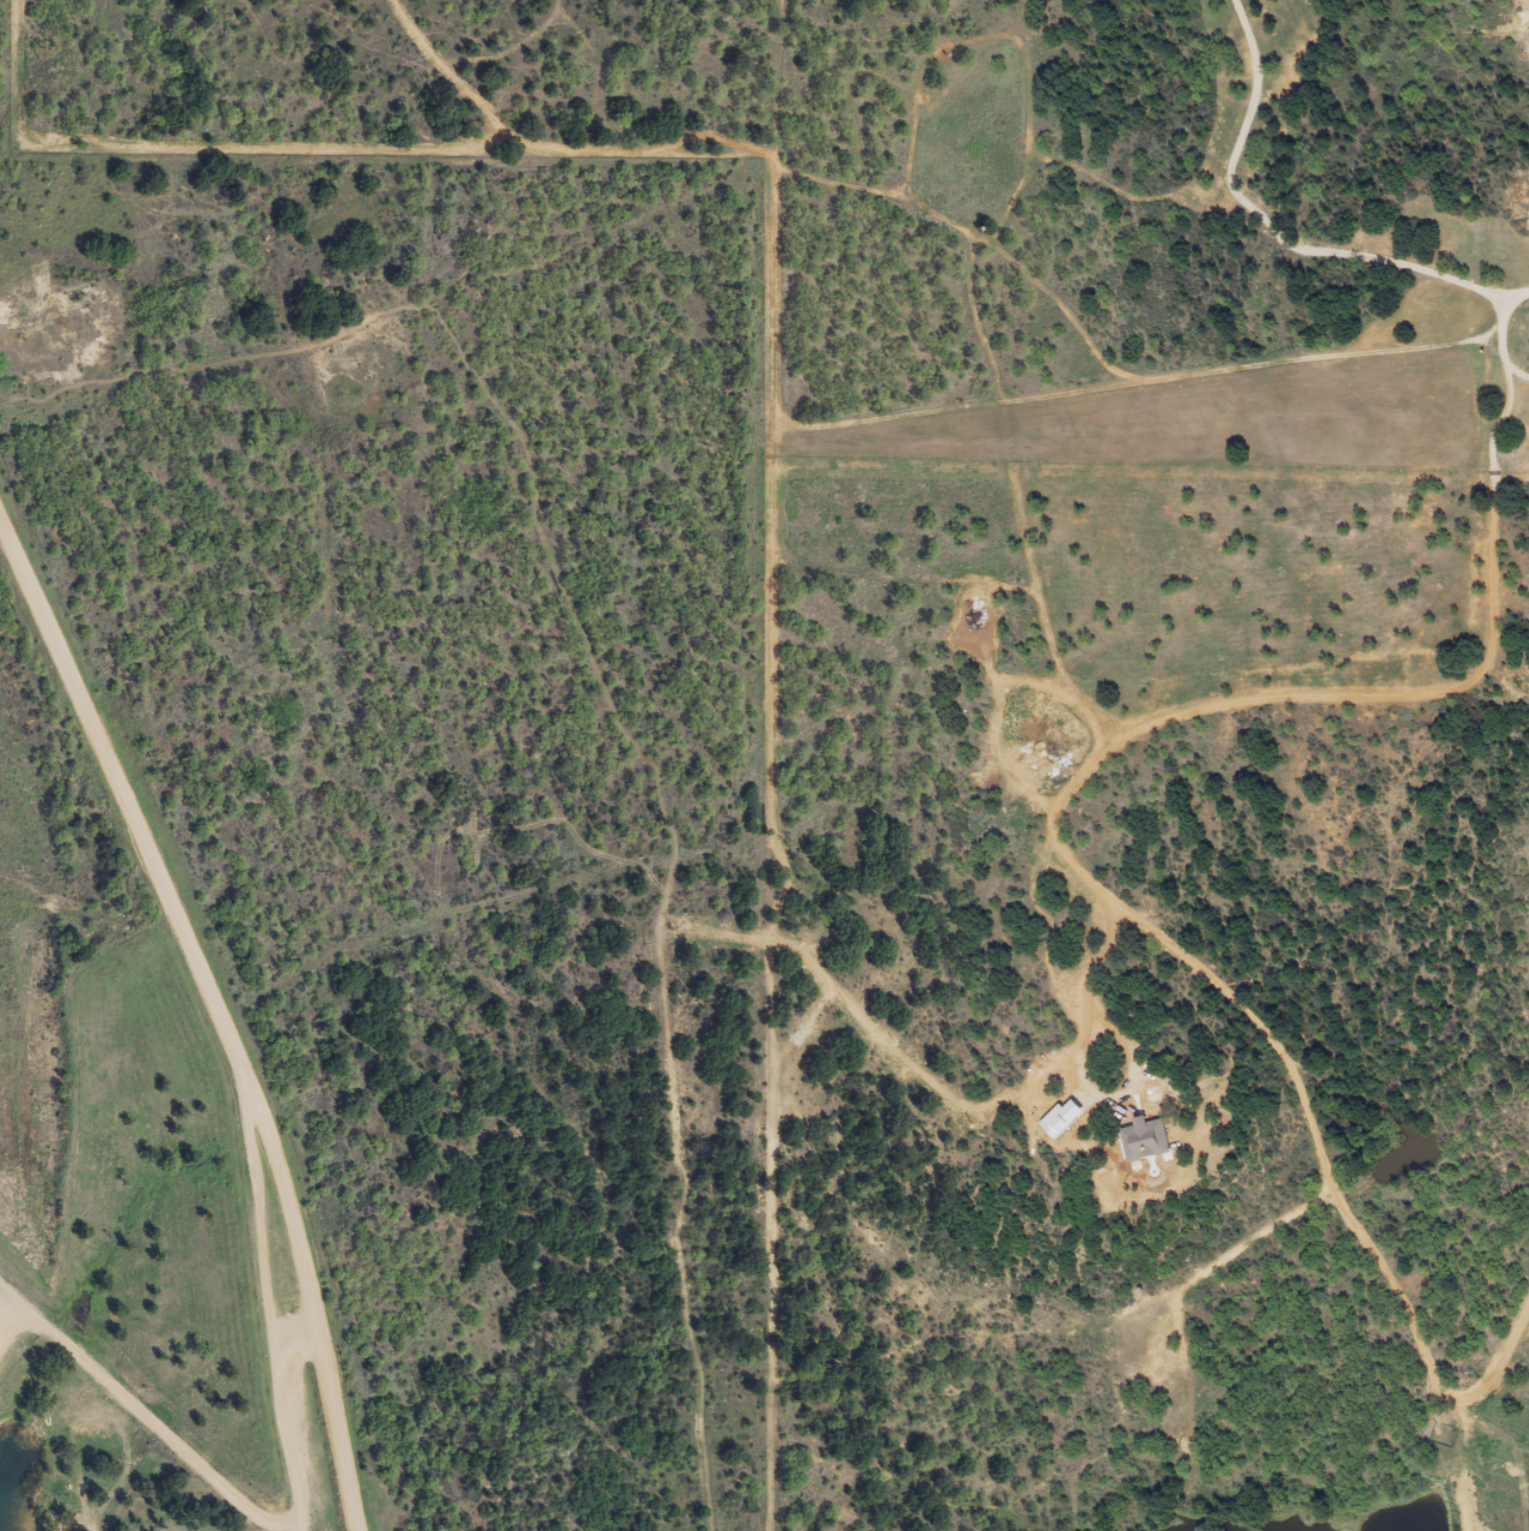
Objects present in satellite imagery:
road: (1349, 253)
road: (1515, 295)
road: (1063, 846)
road: (217, 1011)
building: (1063, 1125)
building: (1143, 1146)
road: (268, 1297)
road: (98, 1418)
road: (149, 1421)

